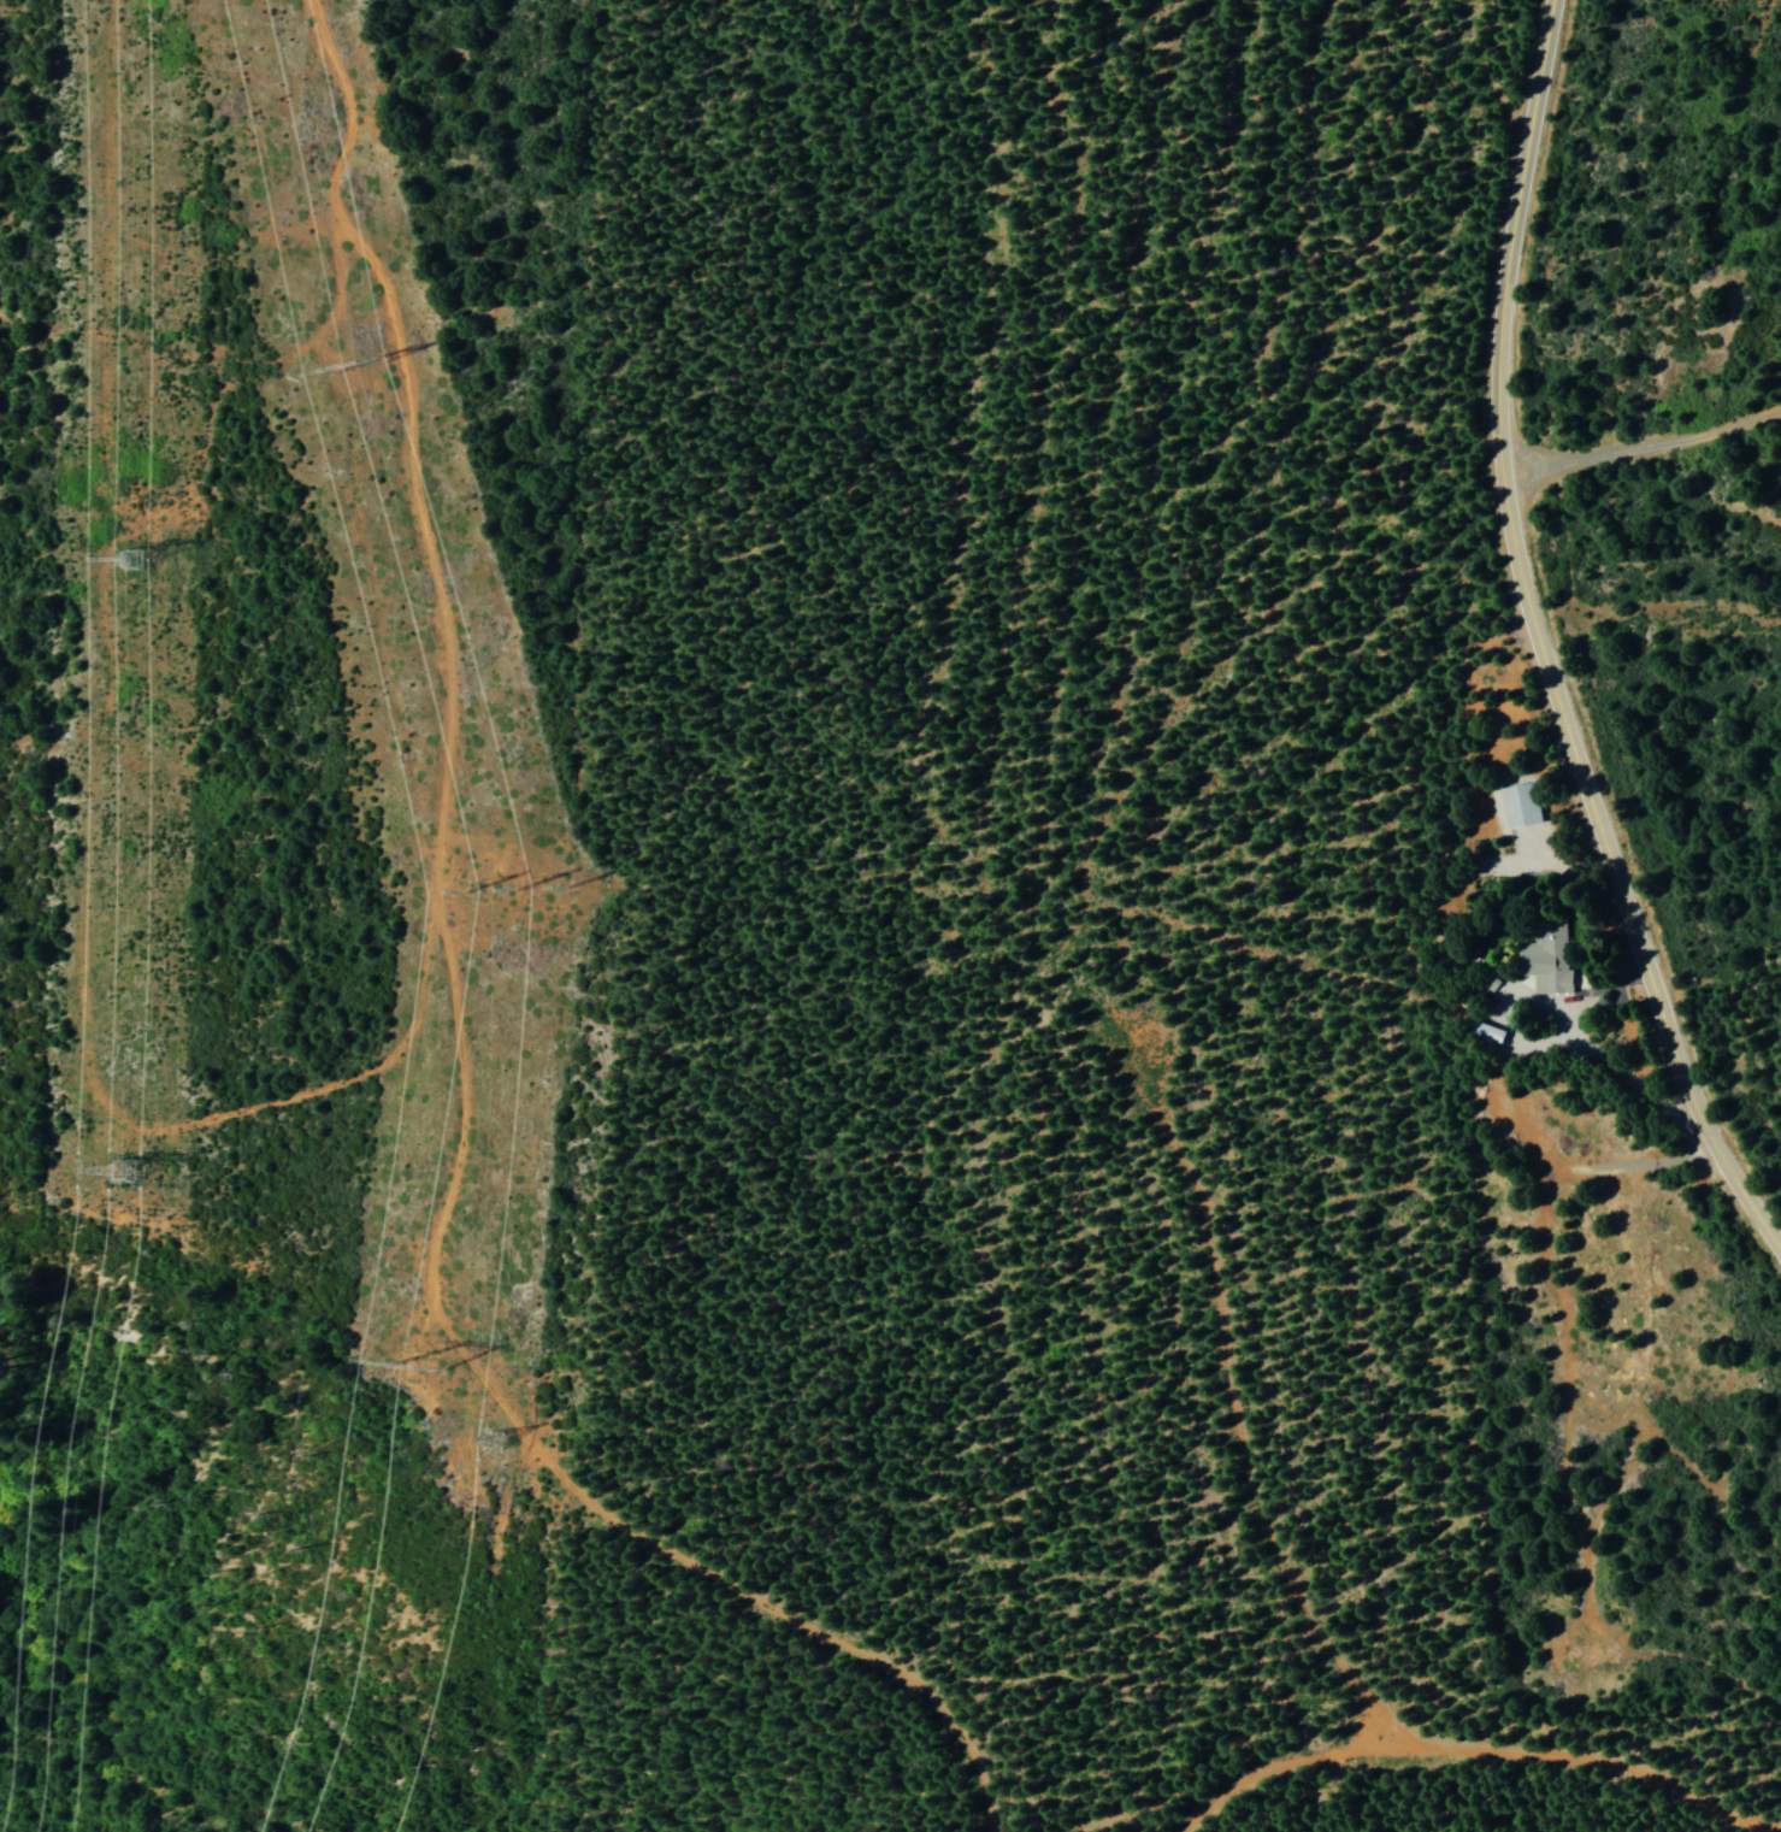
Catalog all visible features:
power tower: (394, 341)
power tower: (160, 566)
road: (1543, 648)
building: (1514, 805)
power tower: (526, 878)
building: (1540, 956)
building: (1500, 990)
power tower: (152, 1164)
power tower: (453, 1351)

